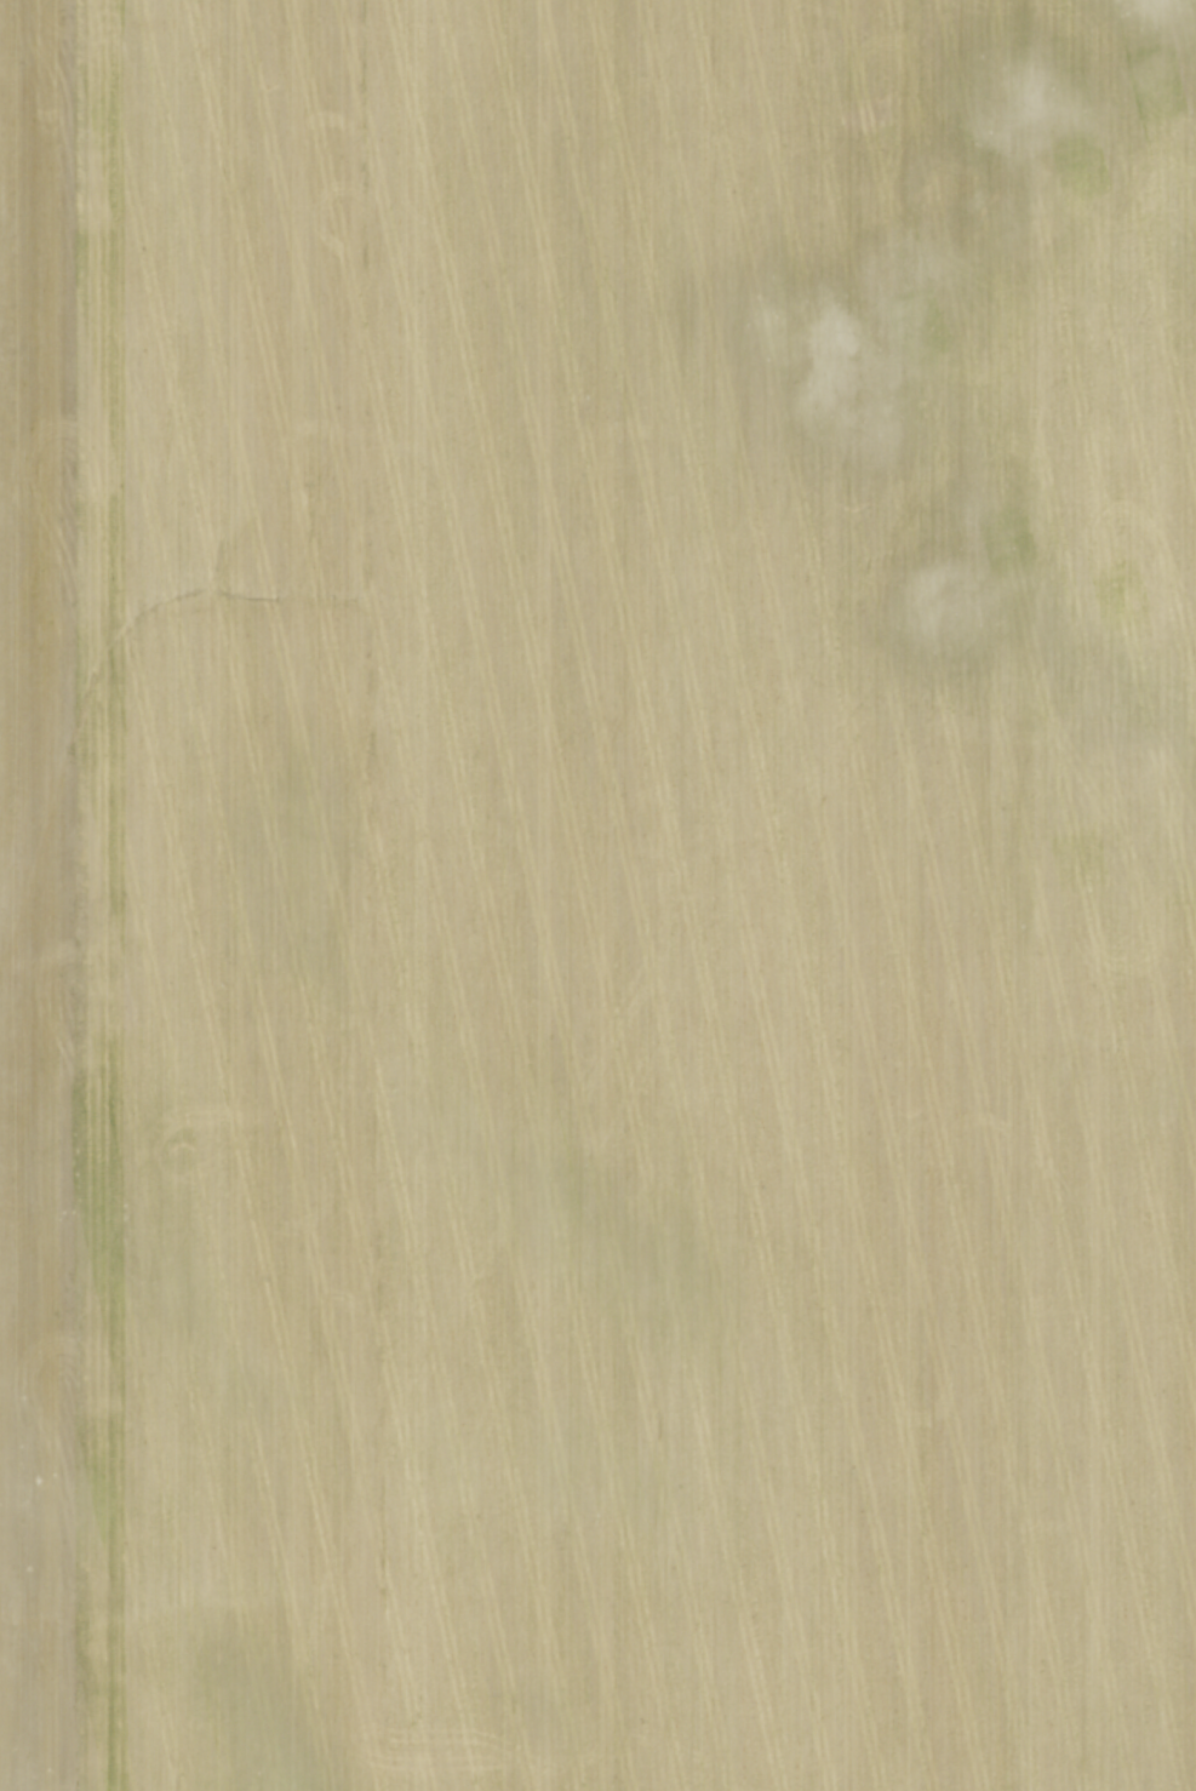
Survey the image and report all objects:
crop: (536, 979)

